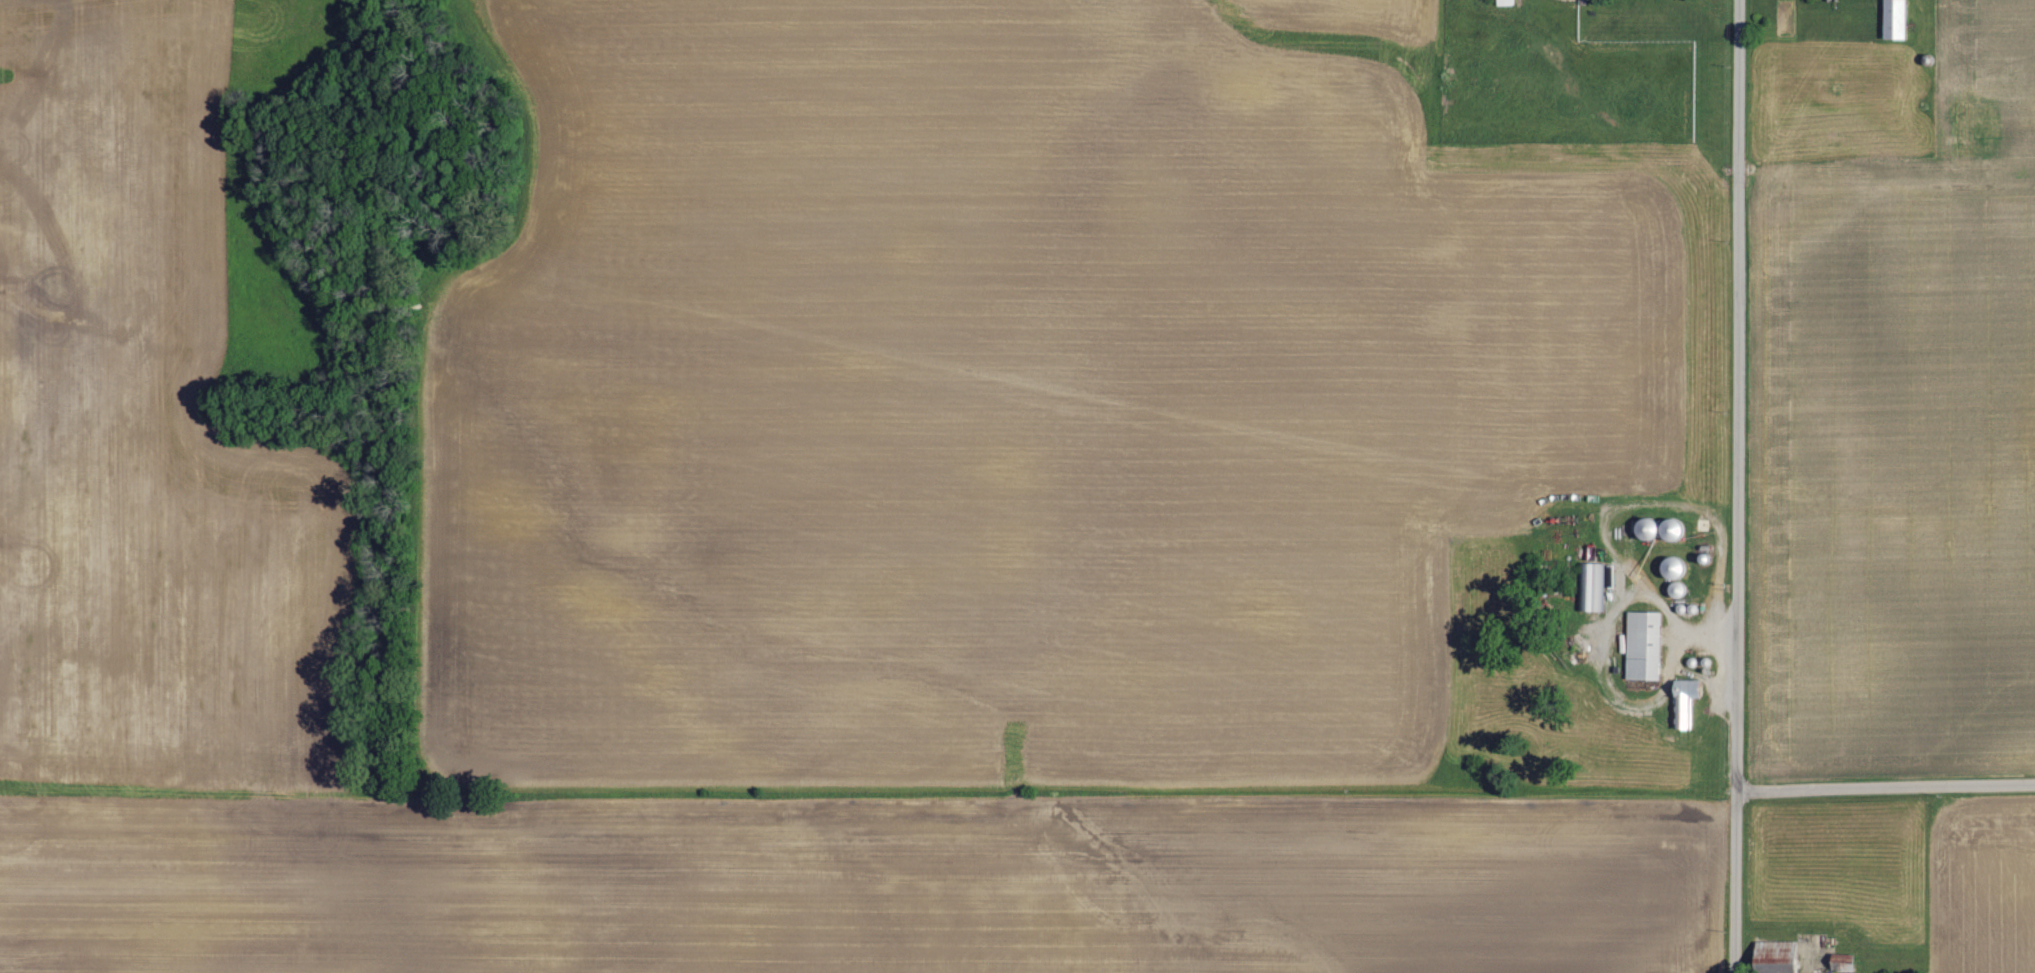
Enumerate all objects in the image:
building: (1895, 19)
building: (1928, 60)
silo: (1928, 60)
road: (1741, 399)
crop: (1896, 448)
building: (1592, 589)
building: (1642, 648)
building: (1683, 704)
road: (1887, 795)
crop: (1982, 885)
road: (1739, 886)
building: (1777, 956)
building: (1845, 962)

